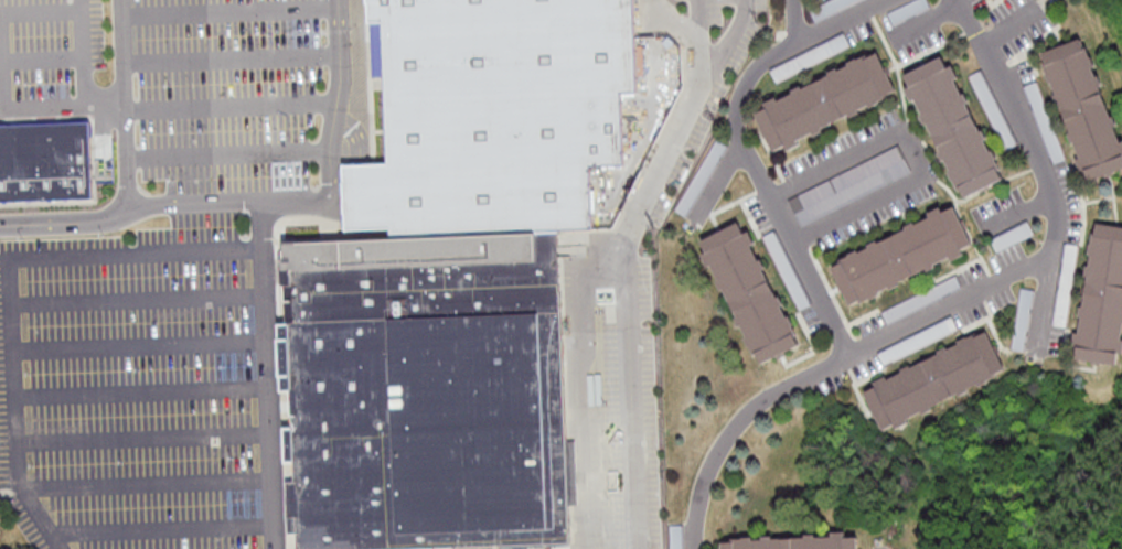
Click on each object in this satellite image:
building: (831, 8)
road: (229, 10)
building: (908, 11)
road: (927, 20)
road: (696, 21)
road: (840, 23)
road: (686, 42)
road: (231, 58)
building: (811, 58)
road: (81, 61)
road: (6, 78)
road: (126, 101)
building: (825, 103)
road: (231, 108)
building: (994, 110)
building: (1084, 110)
building: (494, 114)
building: (1045, 123)
building: (953, 128)
road: (910, 150)
road: (229, 151)
road: (330, 159)
building: (46, 162)
road: (759, 173)
building: (701, 177)
building: (851, 186)
road: (129, 203)
building: (1012, 237)
building: (901, 257)
road: (619, 258)
building: (788, 271)
road: (11, 284)
building: (1067, 286)
building: (750, 294)
road: (140, 299)
building: (922, 300)
building: (1102, 300)
road: (957, 303)
building: (1024, 320)
building: (918, 341)
road: (141, 344)
building: (936, 381)
road: (143, 389)
building: (426, 390)
road: (579, 394)
road: (271, 401)
road: (145, 437)
road: (147, 483)
road: (162, 528)
building: (798, 543)
building: (413, 548)

